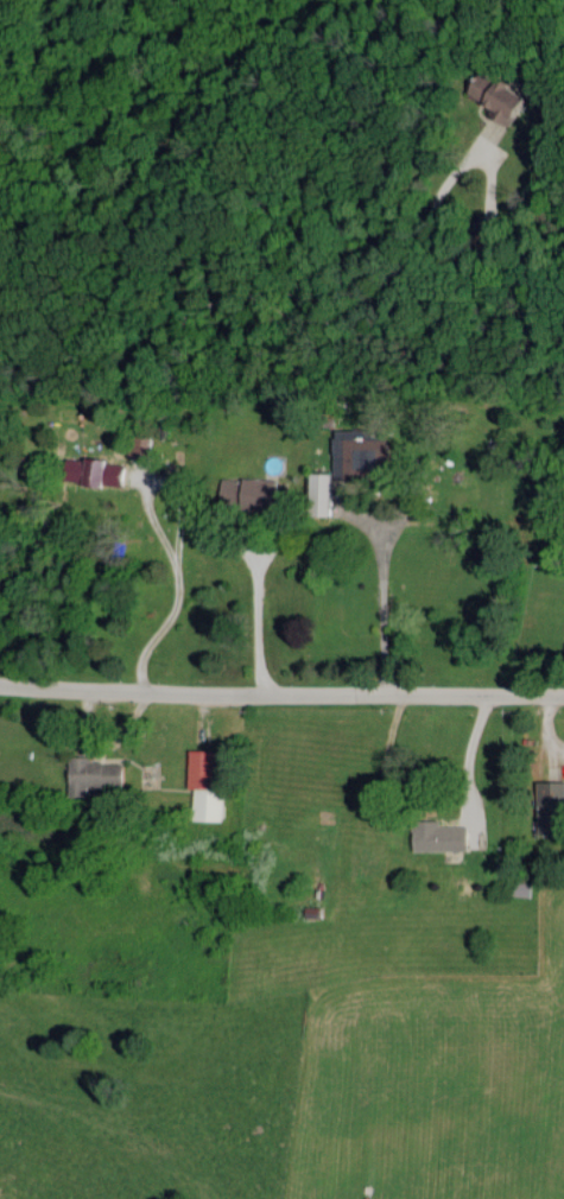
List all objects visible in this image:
building: (512, 101)
road: (286, 309)
building: (356, 452)
building: (100, 471)
building: (267, 491)
building: (325, 494)
road: (178, 539)
road: (381, 602)
road: (255, 603)
road: (281, 691)
building: (99, 774)
building: (209, 785)
building: (549, 791)
building: (433, 835)
building: (518, 888)

